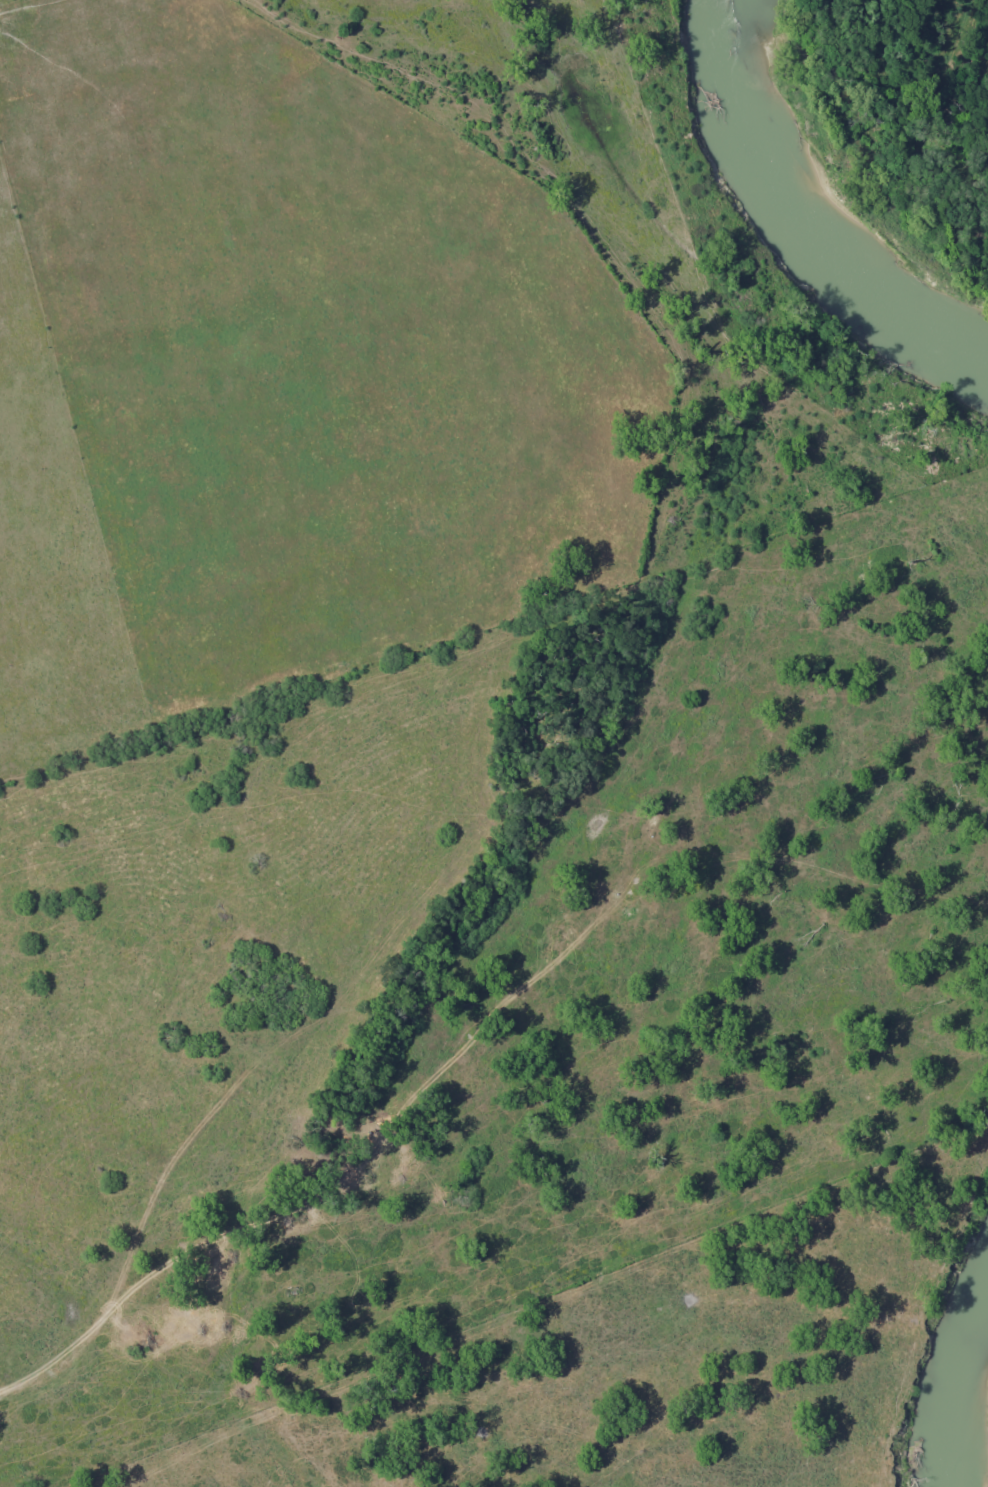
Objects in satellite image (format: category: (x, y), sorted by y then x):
river: (820, 206)
river: (979, 1368)
river: (972, 1440)

